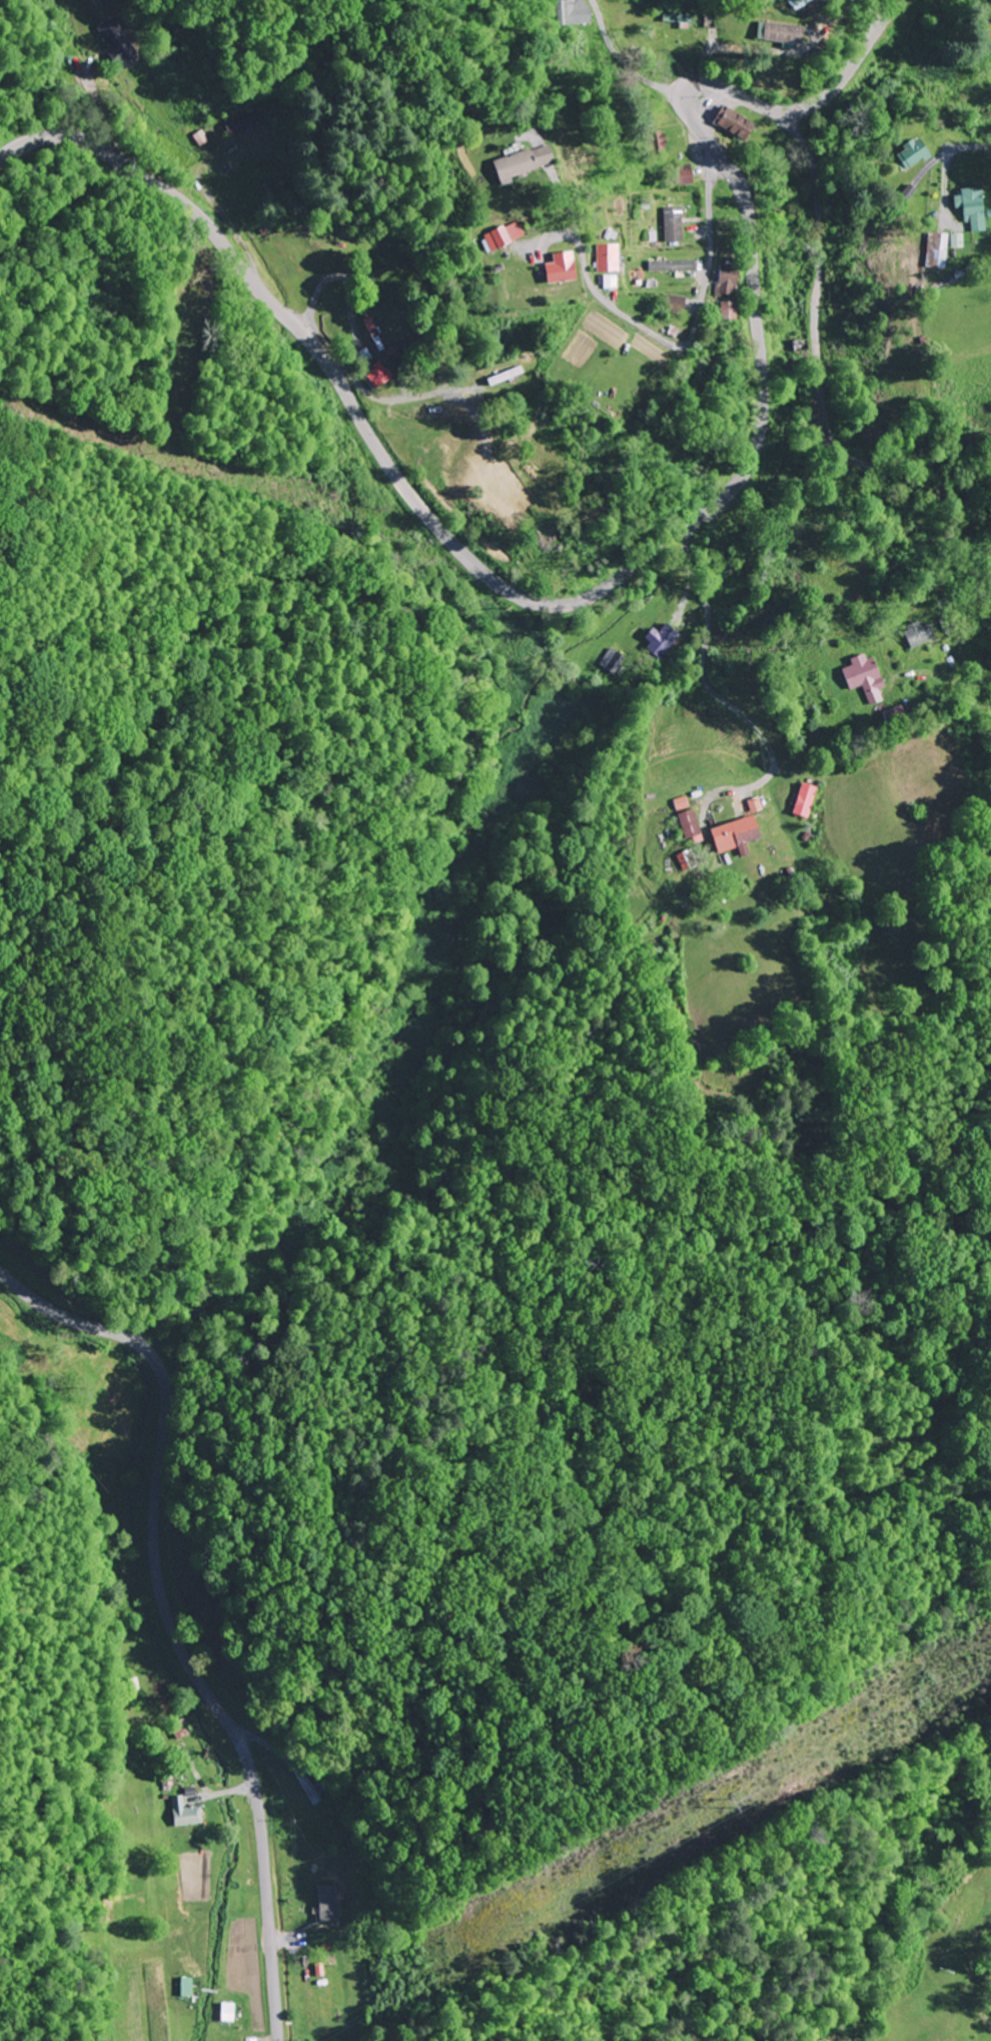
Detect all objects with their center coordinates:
building: (796, 2)
building: (572, 12)
road: (838, 23)
building: (778, 32)
building: (125, 39)
road: (622, 60)
building: (237, 120)
building: (733, 122)
building: (653, 141)
building: (910, 152)
building: (507, 163)
road: (947, 167)
building: (682, 173)
building: (972, 208)
building: (672, 223)
building: (499, 234)
building: (937, 251)
building: (603, 257)
building: (670, 265)
building: (554, 267)
building: (720, 279)
building: (670, 303)
building: (722, 310)
road: (673, 344)
building: (801, 345)
road: (818, 359)
building: (377, 374)
building: (506, 375)
road: (406, 397)
road: (866, 567)
road: (624, 573)
building: (915, 632)
building: (662, 639)
road: (984, 659)
building: (862, 676)
road: (714, 693)
building: (686, 816)
building: (733, 833)
road: (168, 1619)
building: (310, 1788)
building: (183, 1813)
road: (970, 1968)

